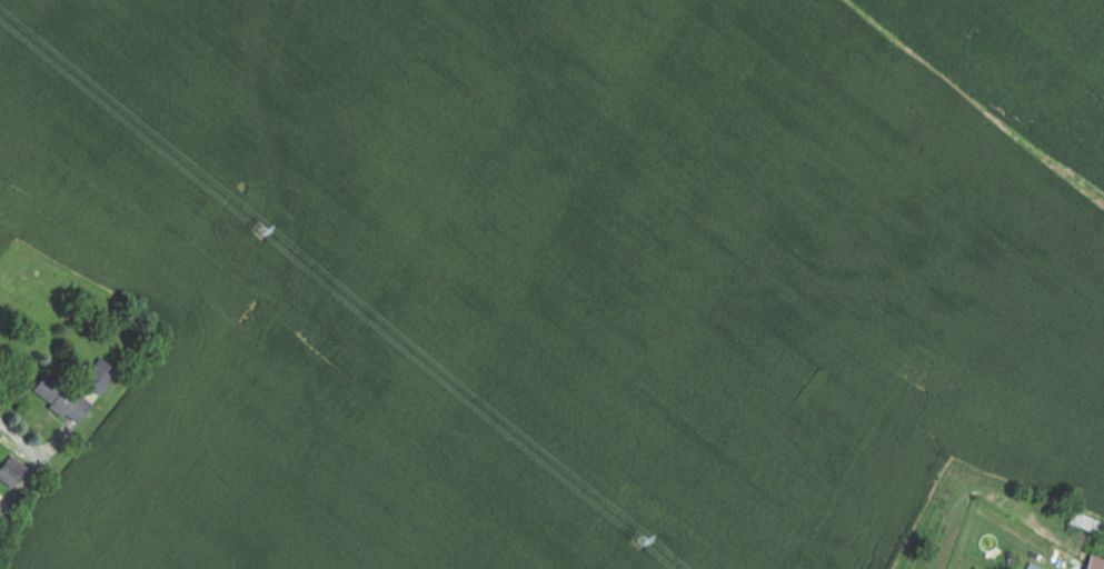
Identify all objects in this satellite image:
building: (105, 378)
building: (68, 400)
road: (10, 437)
building: (16, 473)
road: (33, 482)
building: (2, 503)
building: (1085, 523)
building: (1094, 563)

